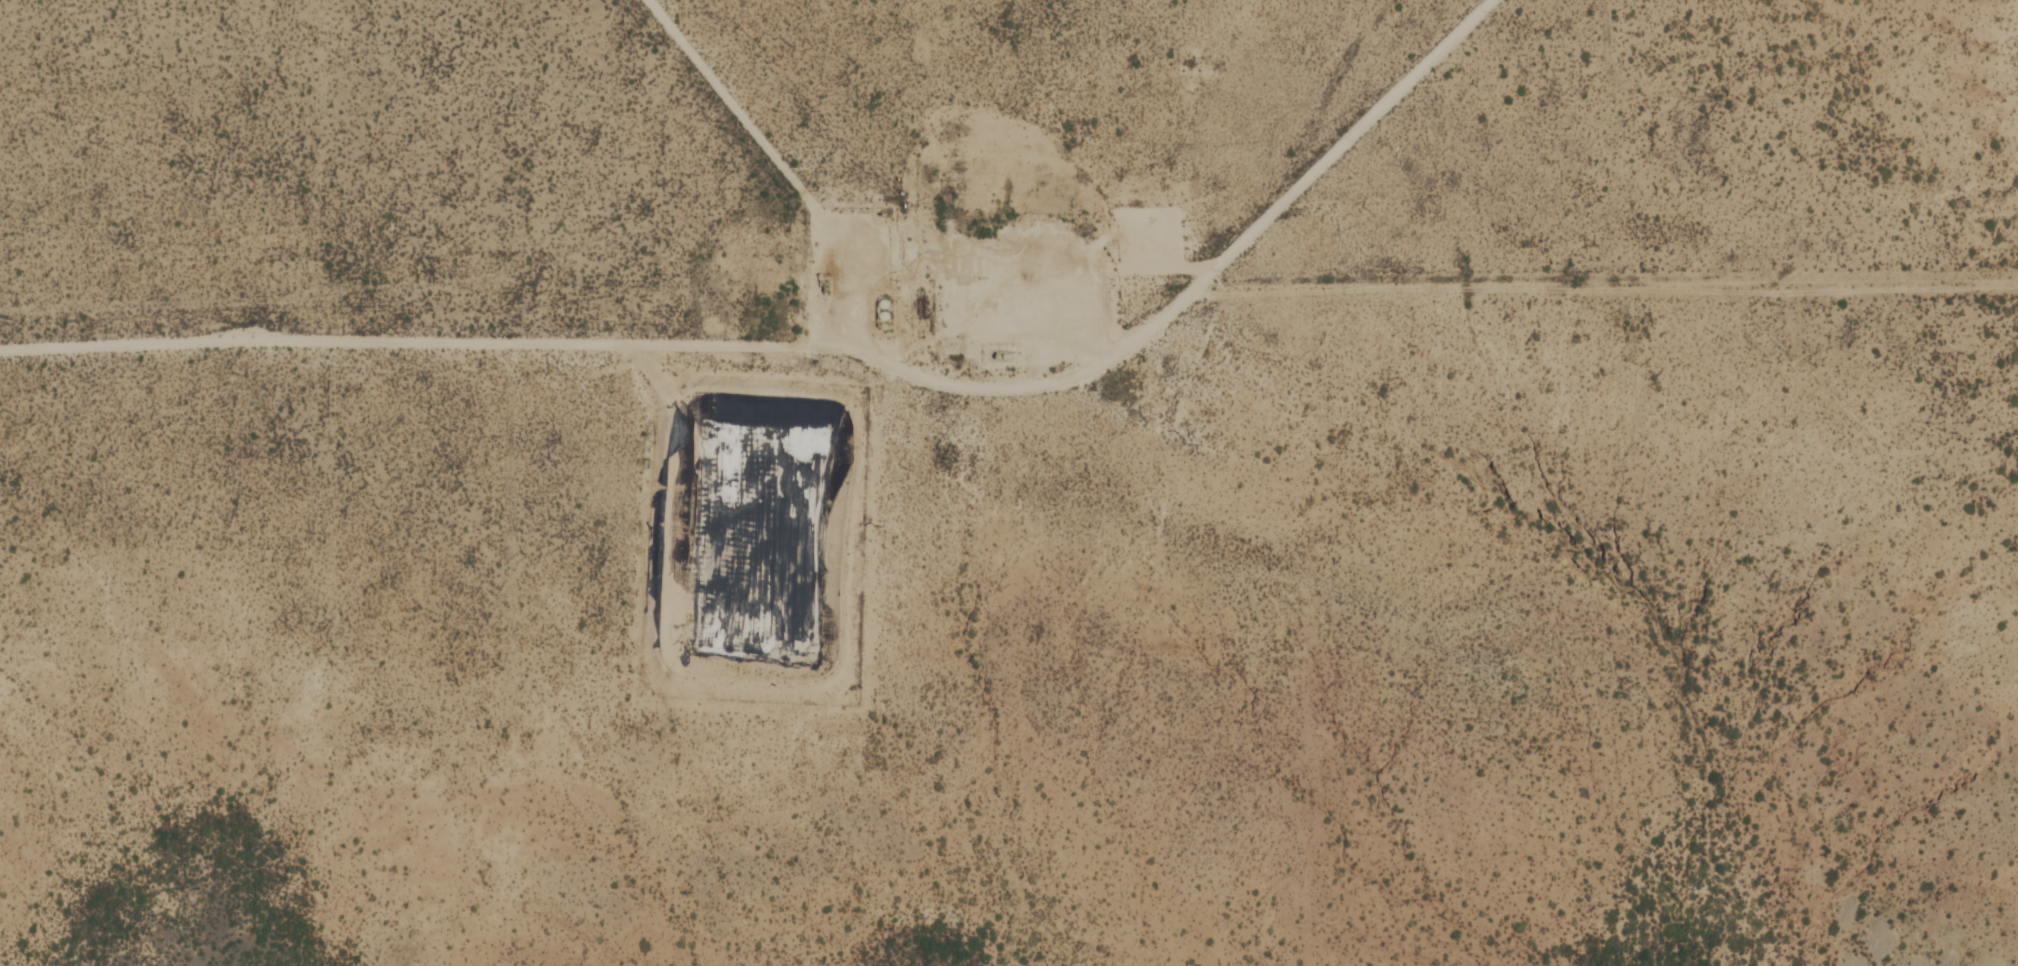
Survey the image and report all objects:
road: (817, 345)

